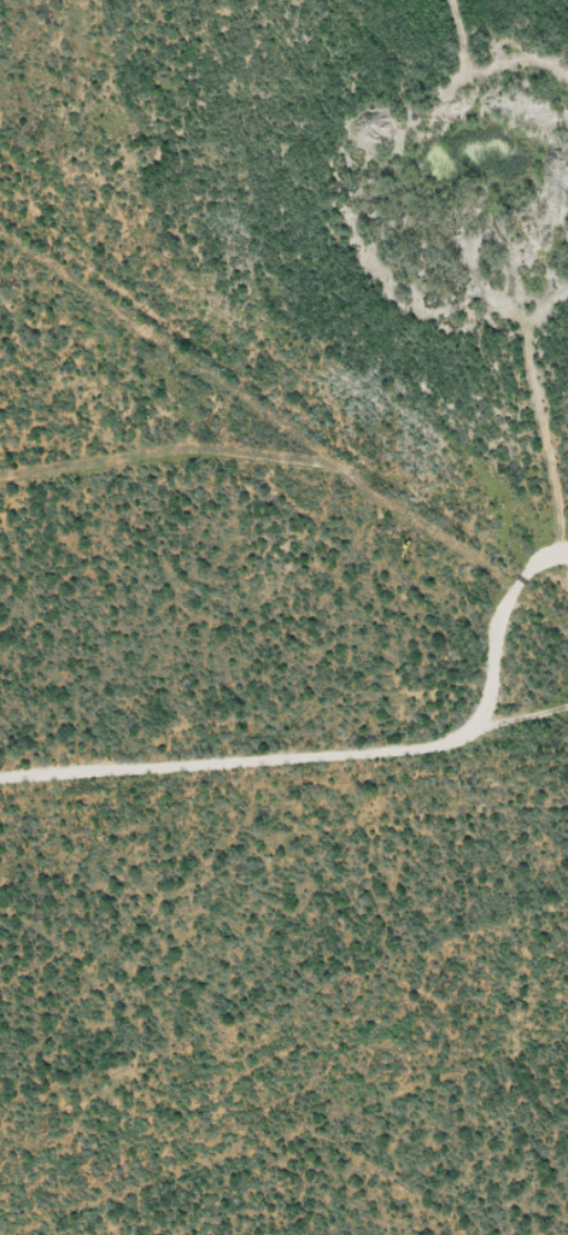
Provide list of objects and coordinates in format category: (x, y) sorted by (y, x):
road: (279, 874)

